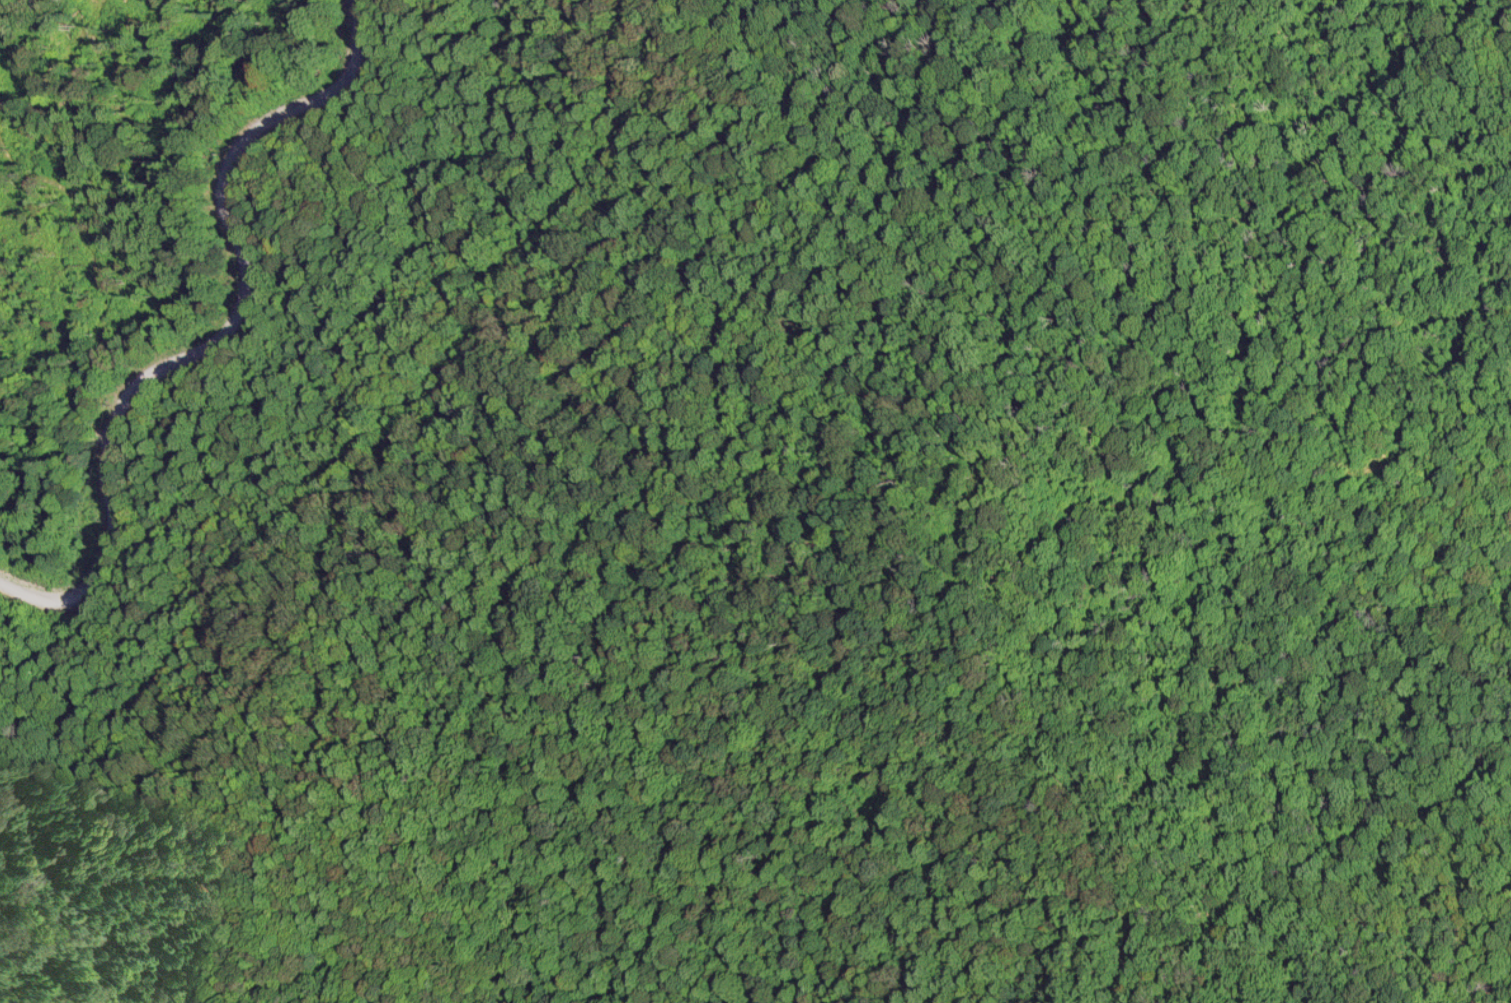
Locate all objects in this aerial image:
road: (217, 334)

